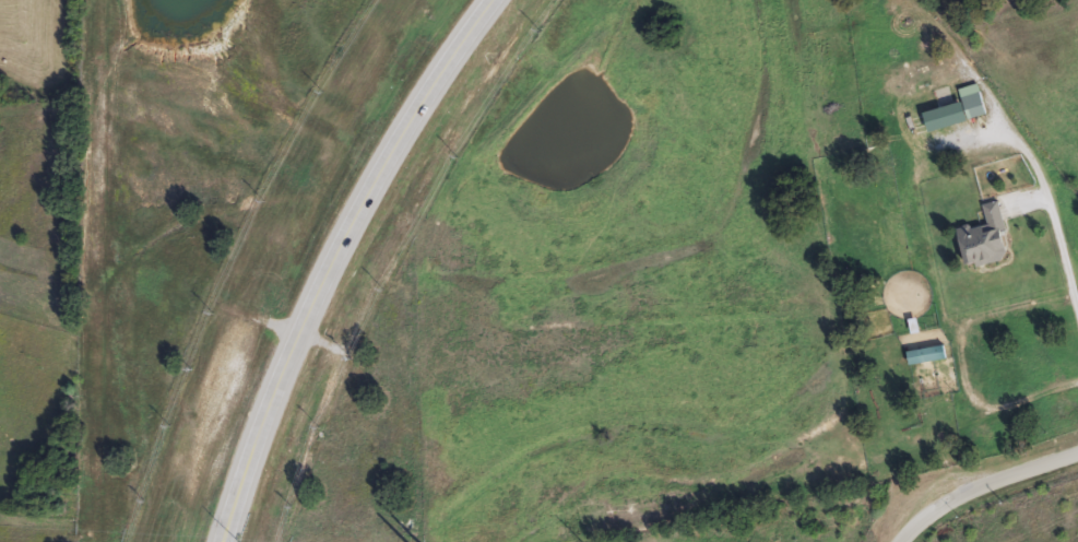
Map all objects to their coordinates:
building: (952, 114)
road: (1054, 220)
building: (986, 241)
road: (336, 258)
building: (868, 316)
building: (903, 381)
road: (985, 487)

